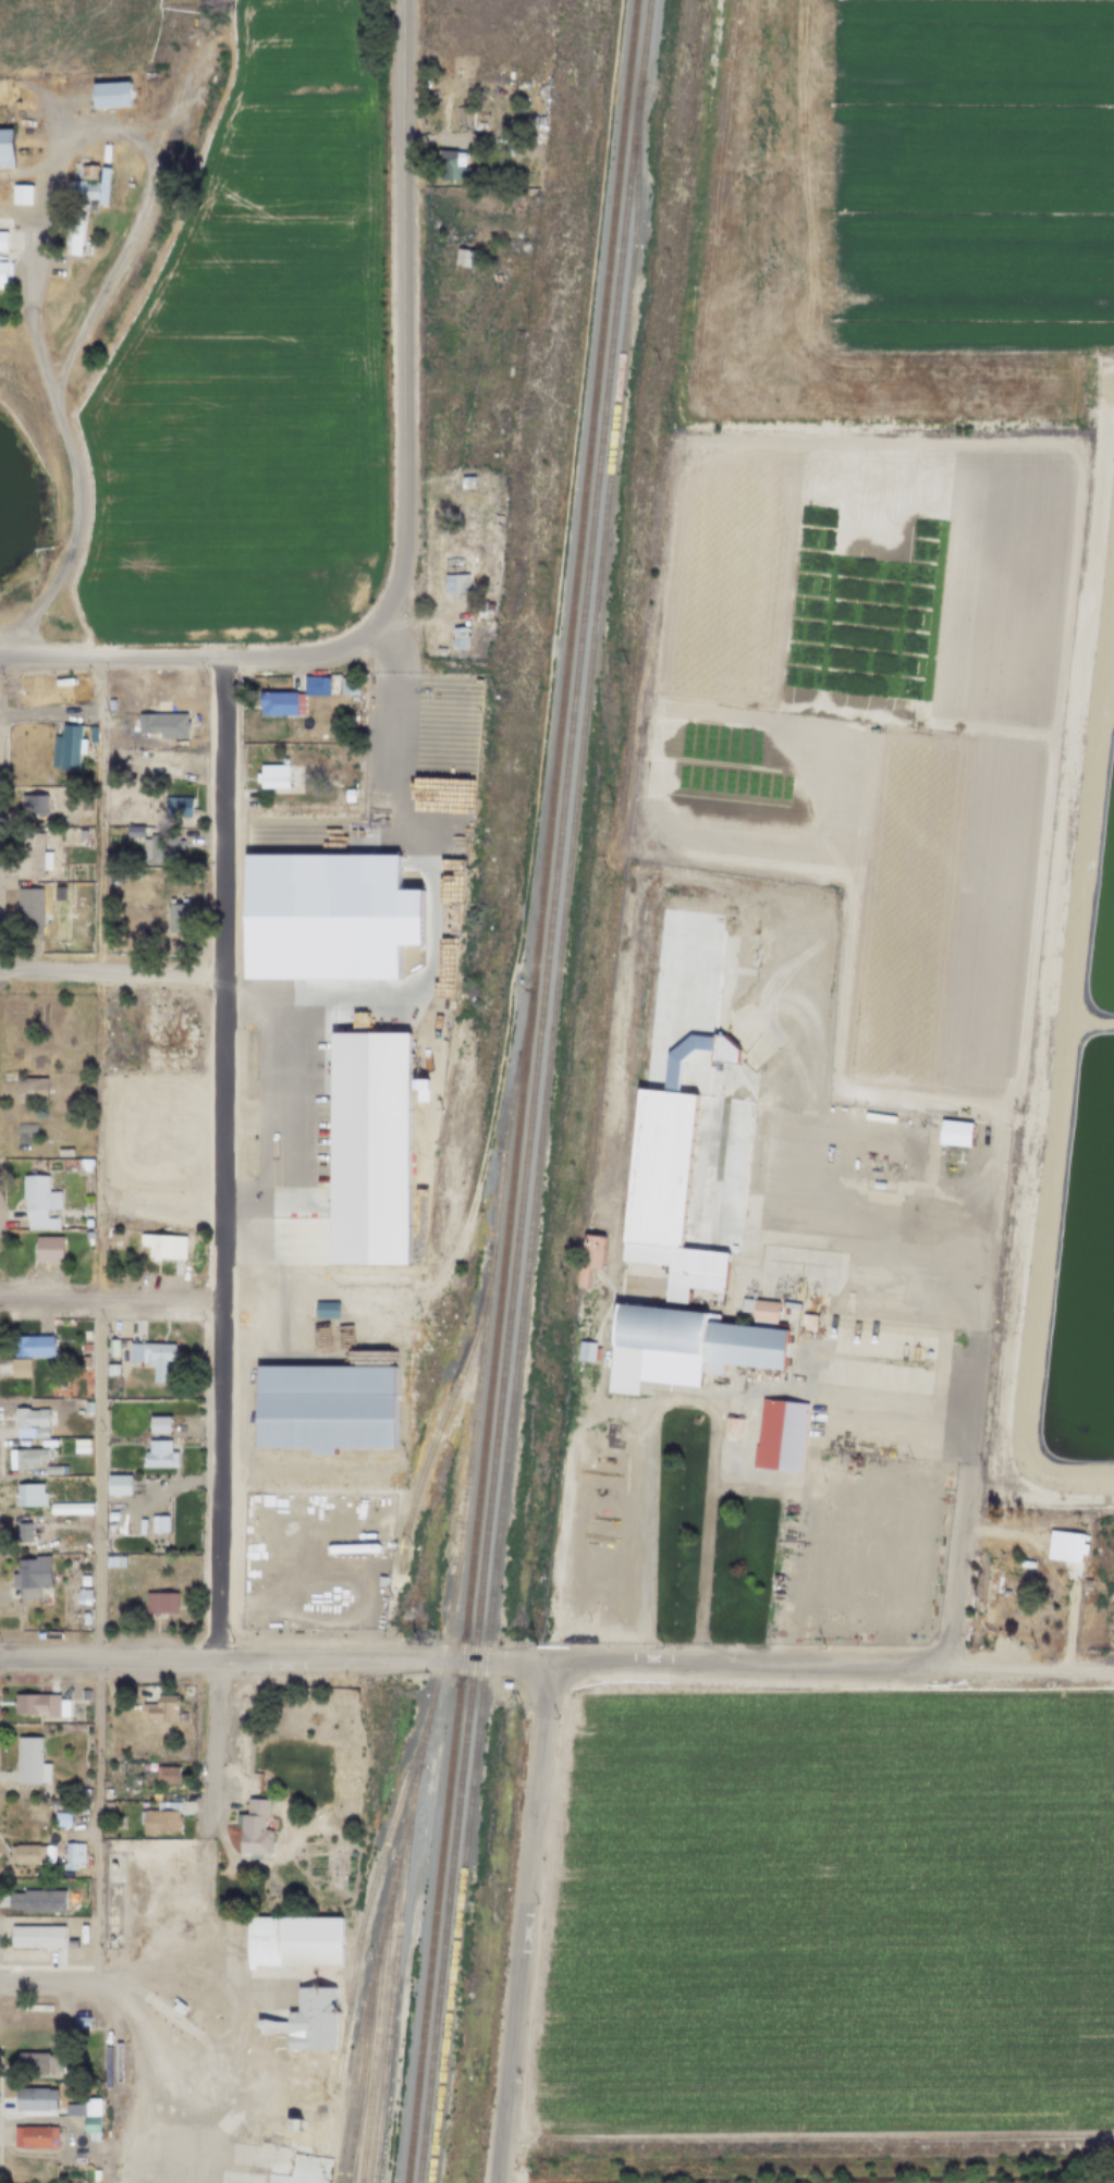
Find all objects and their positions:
building: (109, 95)
road: (174, 109)
building: (464, 121)
road: (112, 126)
building: (5, 149)
building: (451, 165)
building: (88, 170)
road: (27, 173)
building: (89, 191)
building: (20, 193)
road: (24, 209)
building: (5, 220)
building: (448, 237)
building: (2, 241)
building: (75, 242)
building: (464, 258)
building: (122, 270)
building: (2, 274)
building: (466, 482)
road: (404, 508)
road: (74, 540)
building: (456, 587)
road: (1107, 605)
railway: (572, 608)
building: (483, 610)
building: (458, 637)
building: (439, 651)
road: (387, 672)
road: (1104, 678)
building: (316, 686)
building: (347, 686)
building: (278, 703)
building: (110, 704)
building: (334, 709)
road: (50, 713)
road: (1102, 713)
building: (163, 725)
building: (91, 737)
building: (66, 748)
building: (278, 776)
building: (348, 796)
building: (32, 805)
building: (180, 808)
building: (133, 833)
building: (82, 835)
building: (157, 847)
road: (1082, 850)
building: (33, 860)
building: (177, 919)
building: (29, 920)
crop: (1074, 968)
road: (112, 971)
road: (1077, 1016)
building: (161, 1018)
road: (1082, 1023)
building: (30, 1090)
railway: (531, 1091)
road: (280, 1095)
building: (683, 1116)
building: (26, 1132)
building: (954, 1132)
railway: (540, 1133)
building: (64, 1152)
road: (224, 1158)
road: (483, 1163)
building: (35, 1202)
building: (111, 1238)
road: (947, 1238)
building: (161, 1244)
building: (44, 1249)
building: (589, 1259)
road: (411, 1297)
road: (1035, 1297)
road: (112, 1300)
building: (789, 1304)
building: (326, 1309)
building: (764, 1312)
road: (98, 1321)
building: (808, 1322)
building: (83, 1336)
building: (29, 1347)
building: (682, 1347)
building: (82, 1348)
building: (110, 1348)
building: (585, 1350)
building: (151, 1358)
building: (81, 1361)
building: (17, 1369)
building: (108, 1370)
building: (58, 1386)
building: (120, 1391)
building: (79, 1407)
building: (323, 1407)
railway: (444, 1414)
building: (27, 1423)
building: (156, 1425)
building: (733, 1425)
building: (780, 1435)
building: (156, 1456)
building: (21, 1458)
building: (51, 1471)
road: (250, 1475)
road: (49, 1479)
building: (115, 1485)
building: (48, 1501)
building: (112, 1504)
building: (109, 1517)
building: (156, 1524)
building: (108, 1529)
road: (641, 1529)
building: (20, 1532)
road: (355, 1535)
building: (1064, 1546)
building: (353, 1547)
storage tank: (353, 1547)
building: (1009, 1549)
building: (1025, 1563)
road: (344, 1566)
building: (1009, 1571)
road: (291, 1573)
building: (28, 1577)
building: (372, 1578)
building: (1028, 1578)
building: (1087, 1582)
railway: (453, 1587)
building: (1005, 1593)
building: (989, 1595)
building: (79, 1597)
building: (158, 1604)
road: (323, 1618)
road: (110, 1659)
road: (666, 1664)
building: (85, 1696)
railway: (457, 1700)
building: (40, 1705)
building: (159, 1707)
road: (218, 1747)
building: (29, 1761)
building: (166, 1775)
building: (106, 1783)
building: (107, 1793)
road: (536, 1802)
building: (79, 1805)
building: (106, 1805)
building: (159, 1818)
building: (61, 1819)
building: (255, 1828)
building: (73, 1852)
building: (30, 1853)
building: (269, 1889)
railway: (370, 1897)
building: (37, 1900)
crop: (825, 1909)
building: (35, 1936)
building: (293, 1940)
road: (187, 1945)
road: (50, 1983)
road: (235, 1985)
road: (198, 1989)
railway: (391, 1989)
road: (140, 1994)
building: (177, 2008)
road: (175, 2021)
building: (307, 2021)
building: (175, 2022)
building: (82, 2023)
railway: (364, 2038)
road: (200, 2039)
building: (34, 2063)
railway: (350, 2083)
building: (34, 2099)
road: (166, 2110)
building: (90, 2119)
building: (291, 2124)
building: (37, 2136)
road: (191, 2151)
building: (294, 2164)

